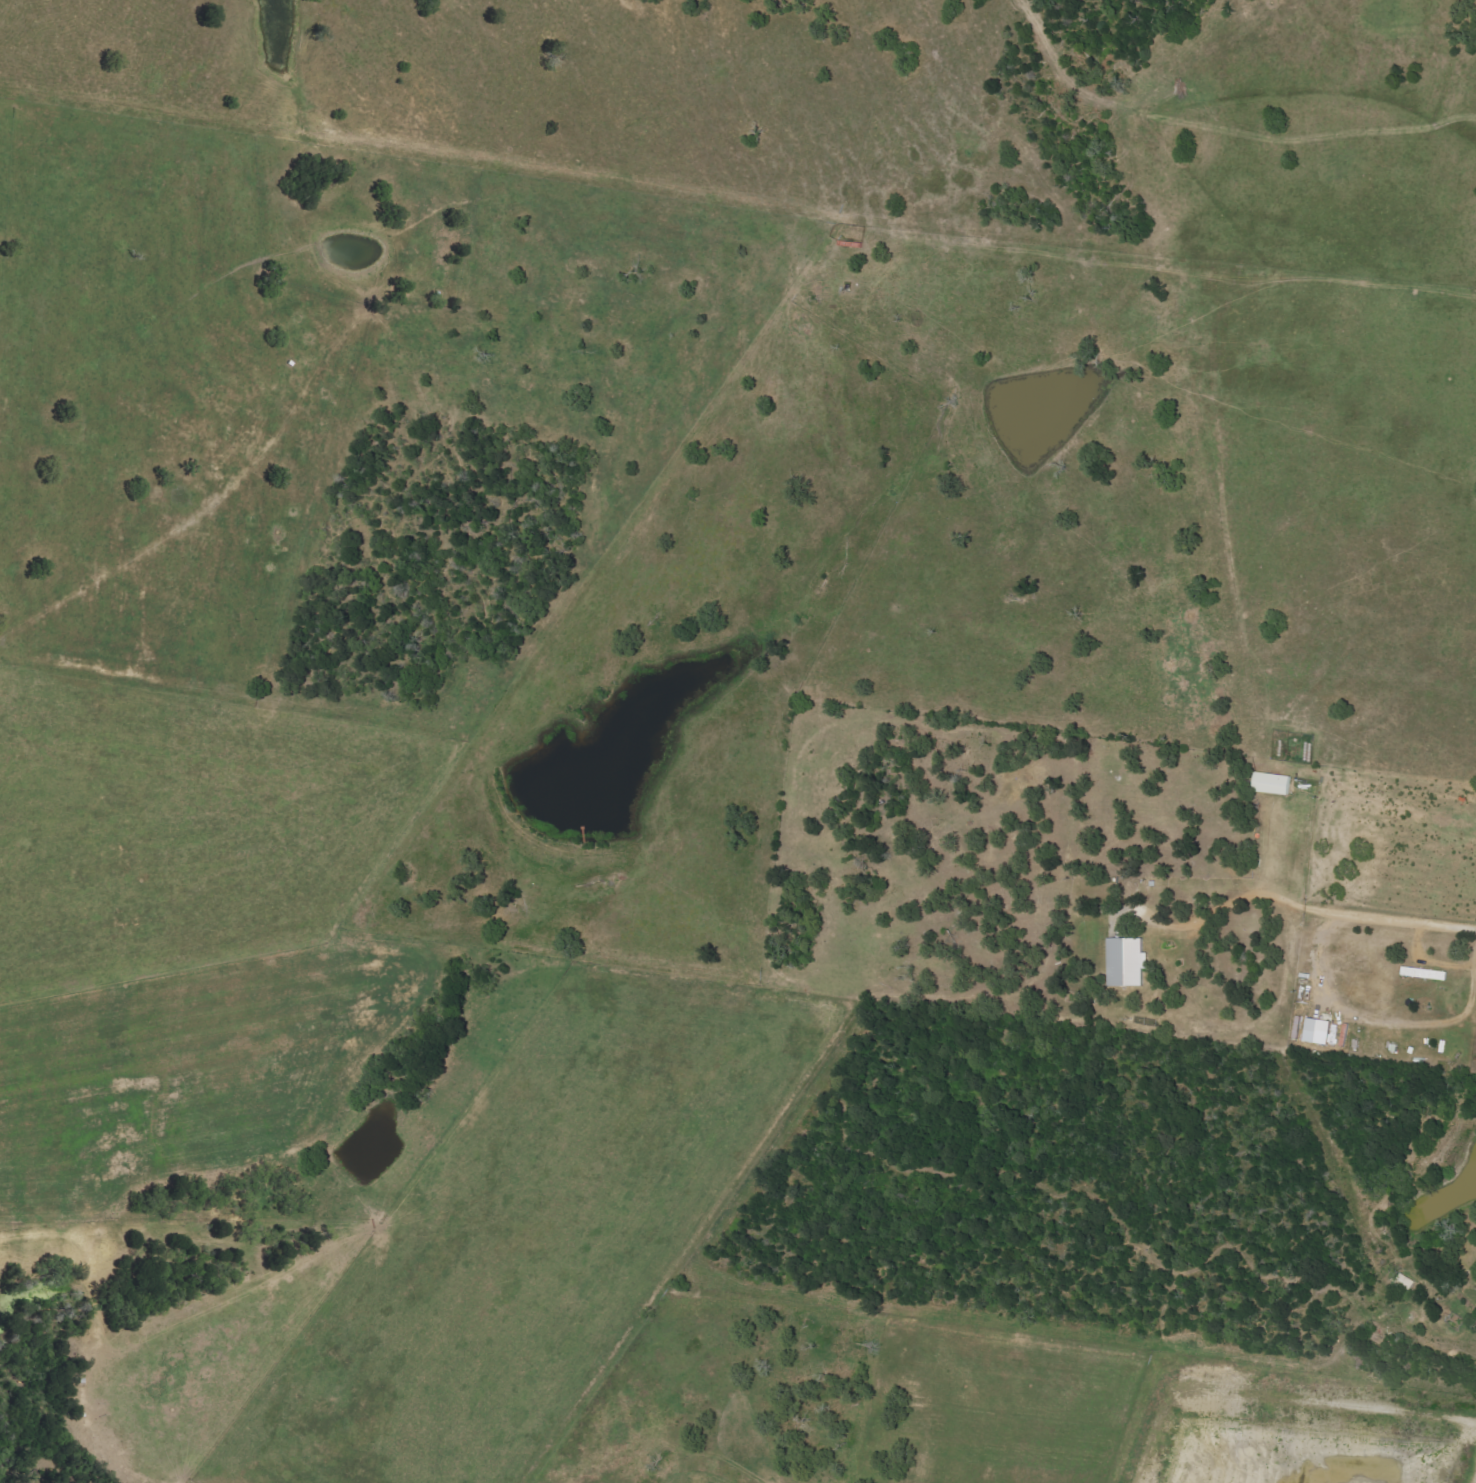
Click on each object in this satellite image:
building: (1270, 784)
road: (1328, 912)
building: (1125, 962)
building: (1423, 973)
building: (1315, 1031)
building: (1332, 1034)
building: (1405, 1282)

